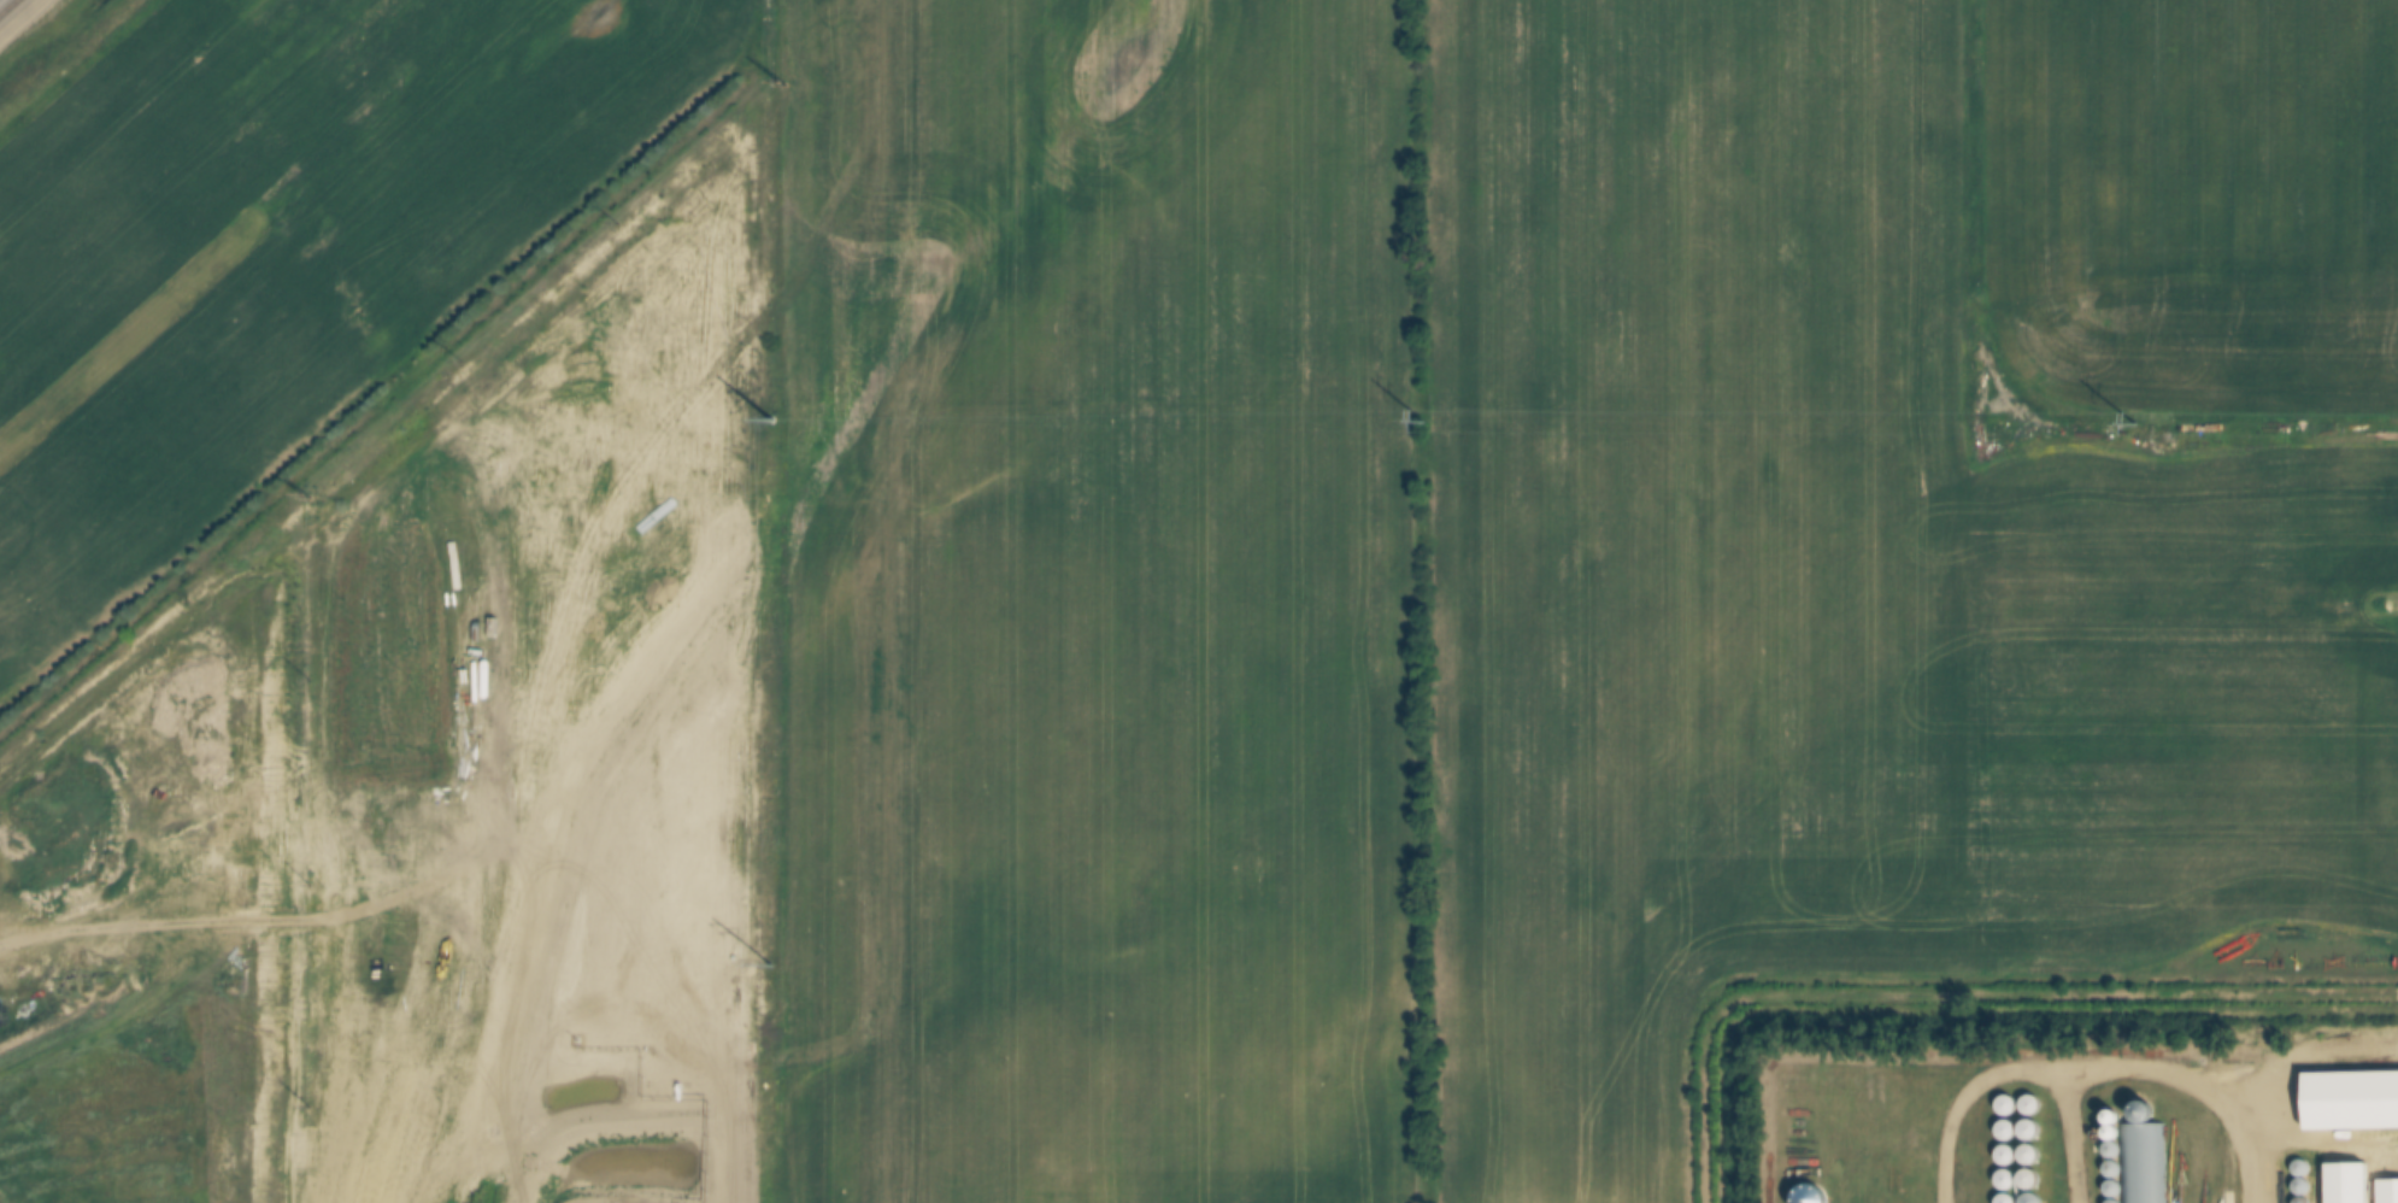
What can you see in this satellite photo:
railway: (0, 0)
railway: (10, 8)
power tower: (770, 419)
power tower: (1424, 421)
power tower: (2132, 423)
power tower: (771, 963)
road: (2096, 1069)
building: (1897, 1099)
building: (2009, 1101)
silo: (2009, 1101)
building: (2034, 1101)
silo: (2034, 1101)
building: (2352, 1101)
building: (2146, 1110)
silo: (2146, 1110)
building: (2115, 1117)
silo: (2115, 1117)
building: (2009, 1125)
silo: (2009, 1125)
building: (2033, 1128)
silo: (2033, 1128)
building: (2116, 1133)
silo: (2116, 1133)
building: (2009, 1149)
silo: (2009, 1149)
building: (2115, 1151)
silo: (2115, 1151)
building: (2033, 1152)
silo: (2033, 1152)
building: (2149, 1162)
building: (2303, 1169)
silo: (2303, 1169)
building: (2115, 1170)
silo: (2115, 1170)
building: (2009, 1174)
silo: (2009, 1174)
building: (2032, 1178)
silo: (2032, 1178)
building: (2349, 1184)
building: (2304, 1187)
silo: (2304, 1187)
building: (2115, 1191)
silo: (2115, 1191)
building: (2009, 1196)
silo: (2009, 1196)
building: (2033, 1196)
silo: (2033, 1196)
building: (2304, 1199)
silo: (2304, 1199)
building: (2117, 1202)
silo: (2117, 1202)

